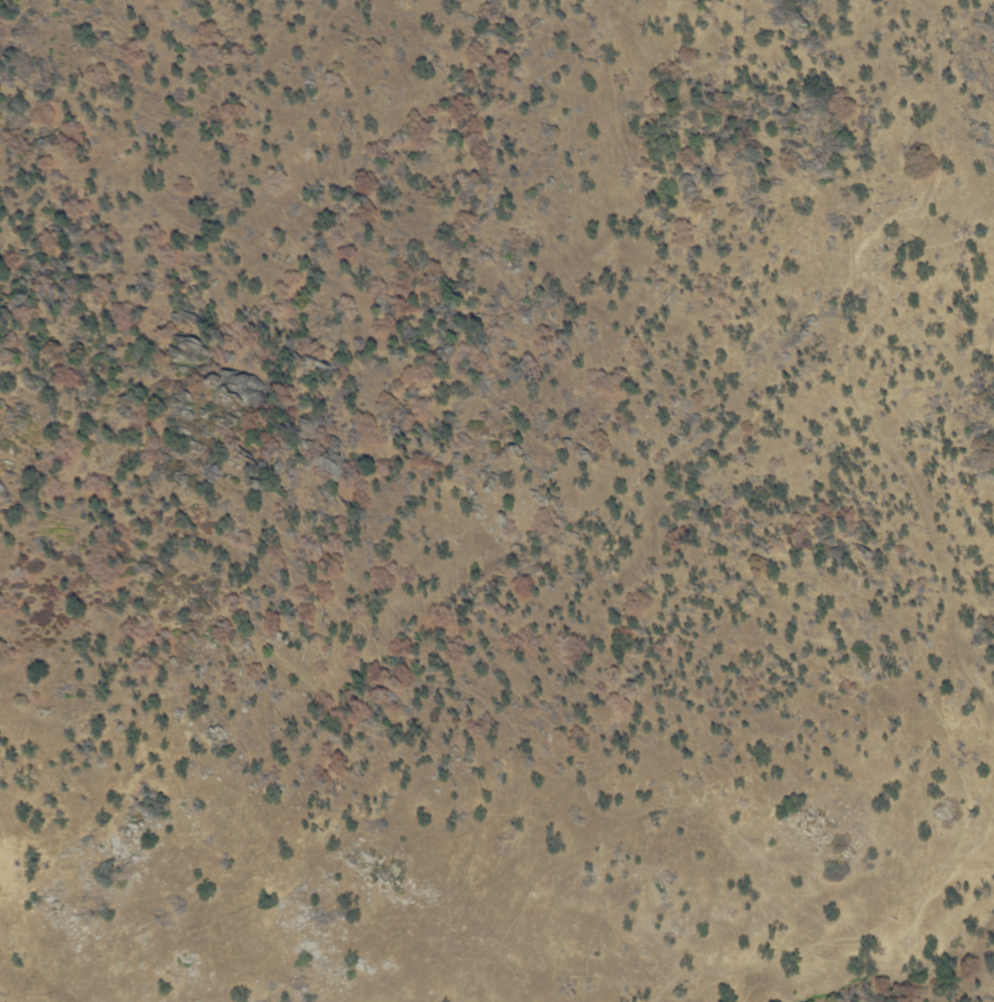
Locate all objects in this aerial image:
road: (868, 939)

